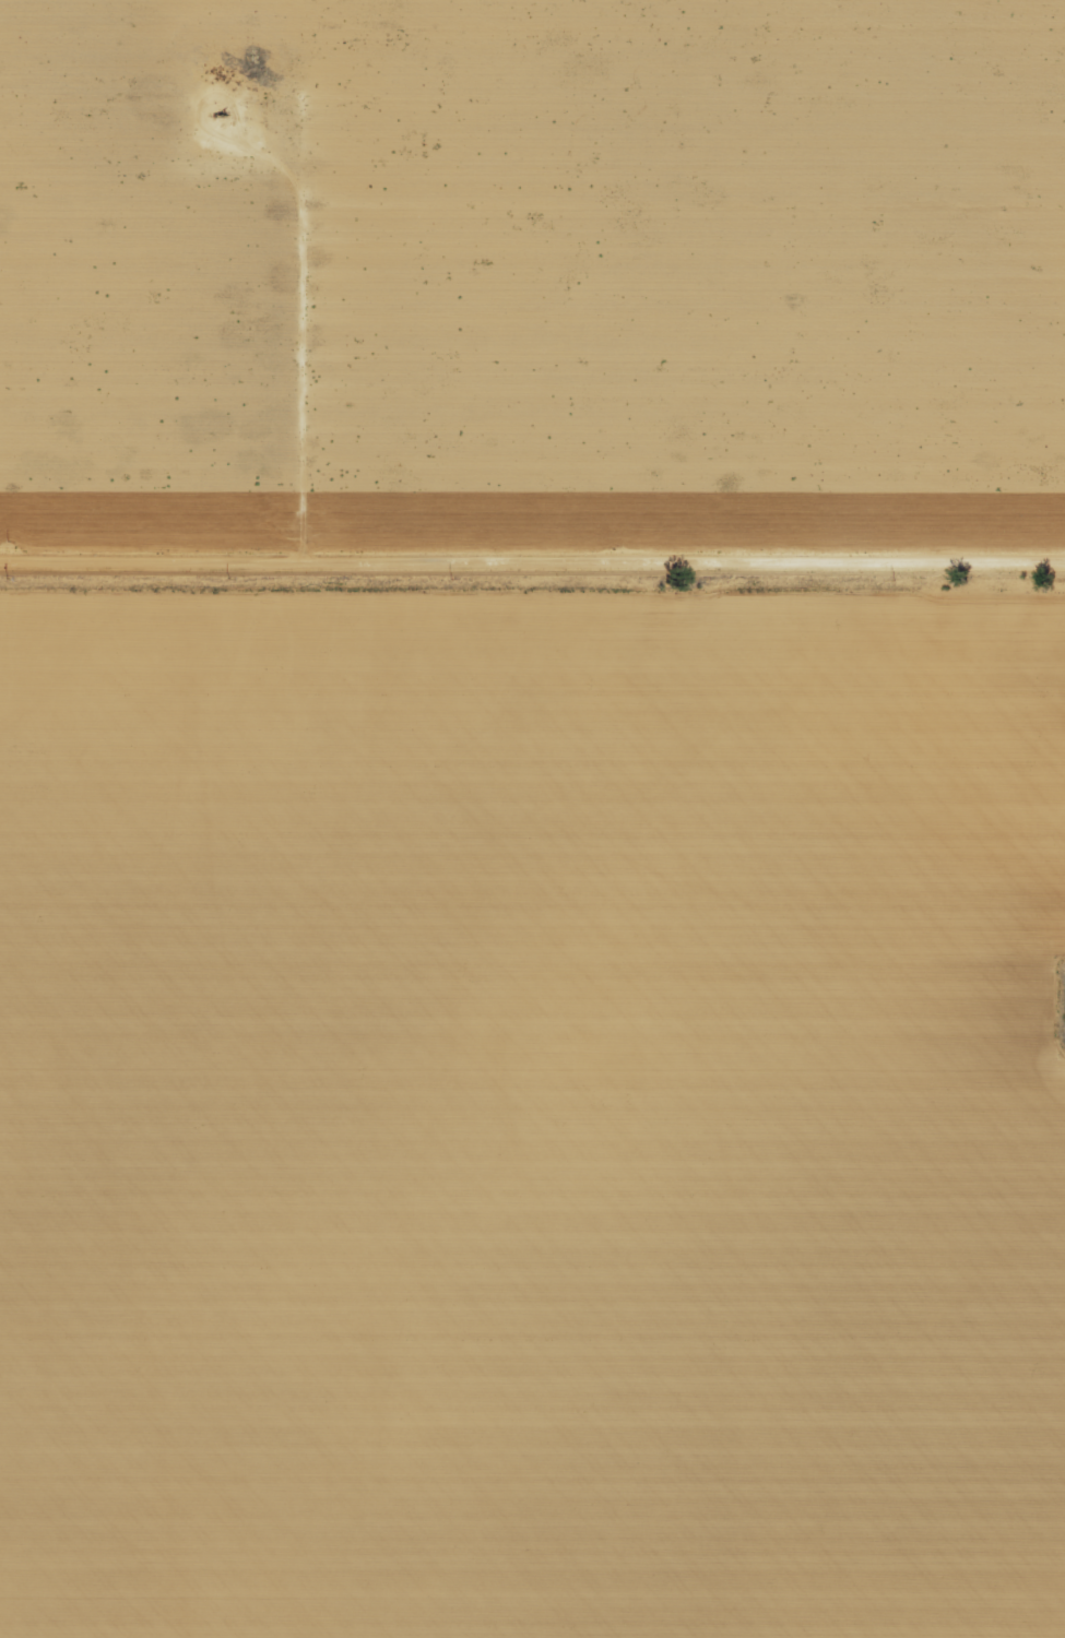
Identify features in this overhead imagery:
road: (532, 560)

